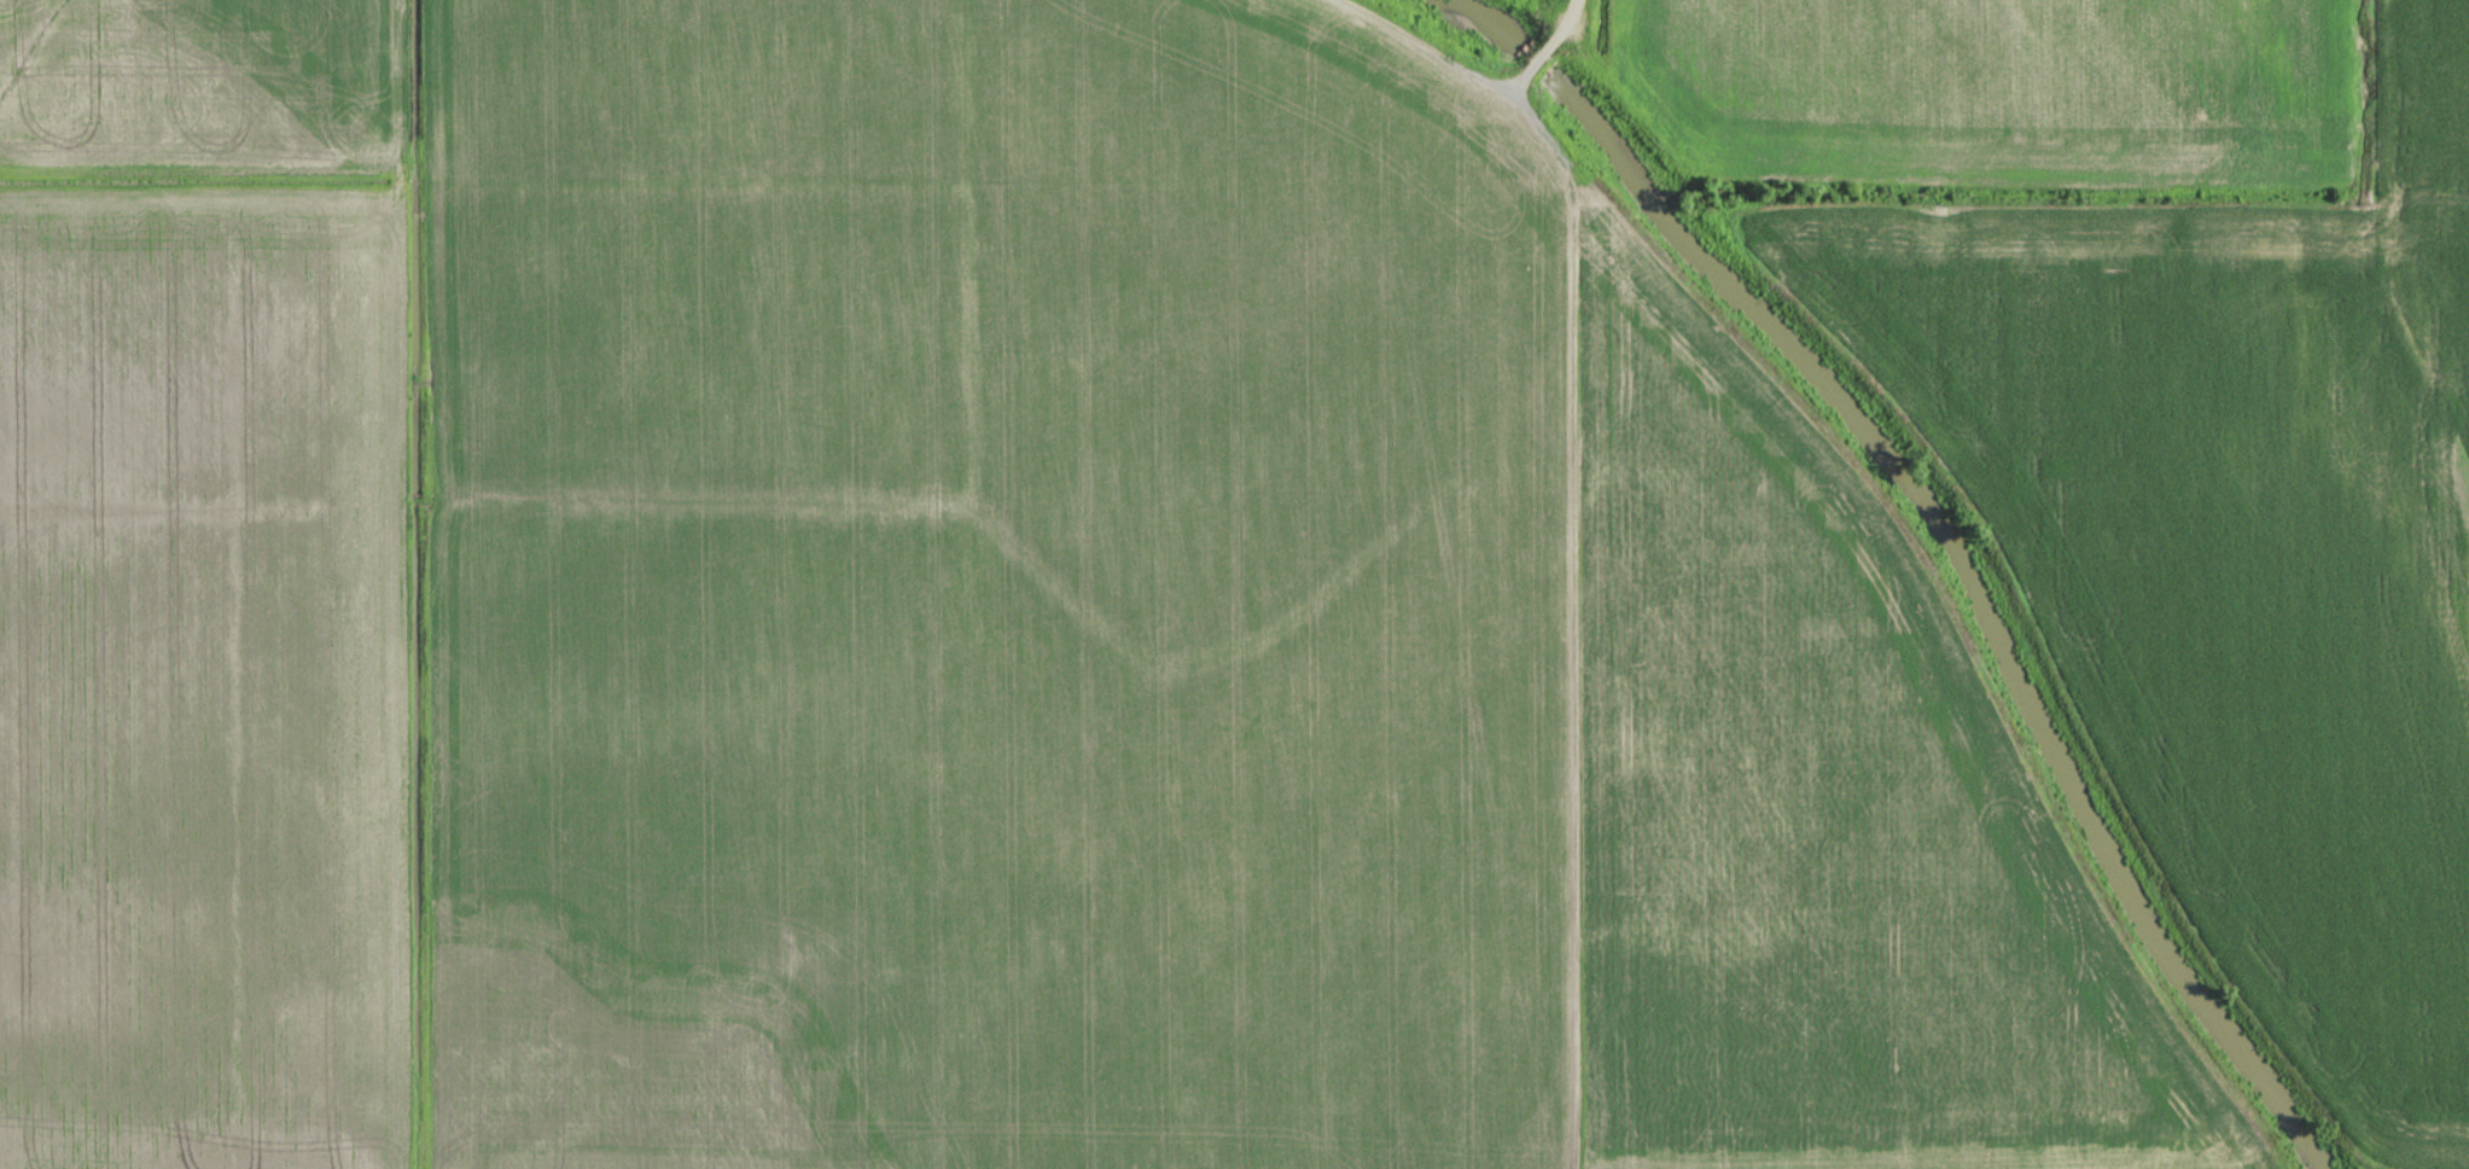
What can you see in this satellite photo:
road: (1567, 24)
road: (1532, 65)

